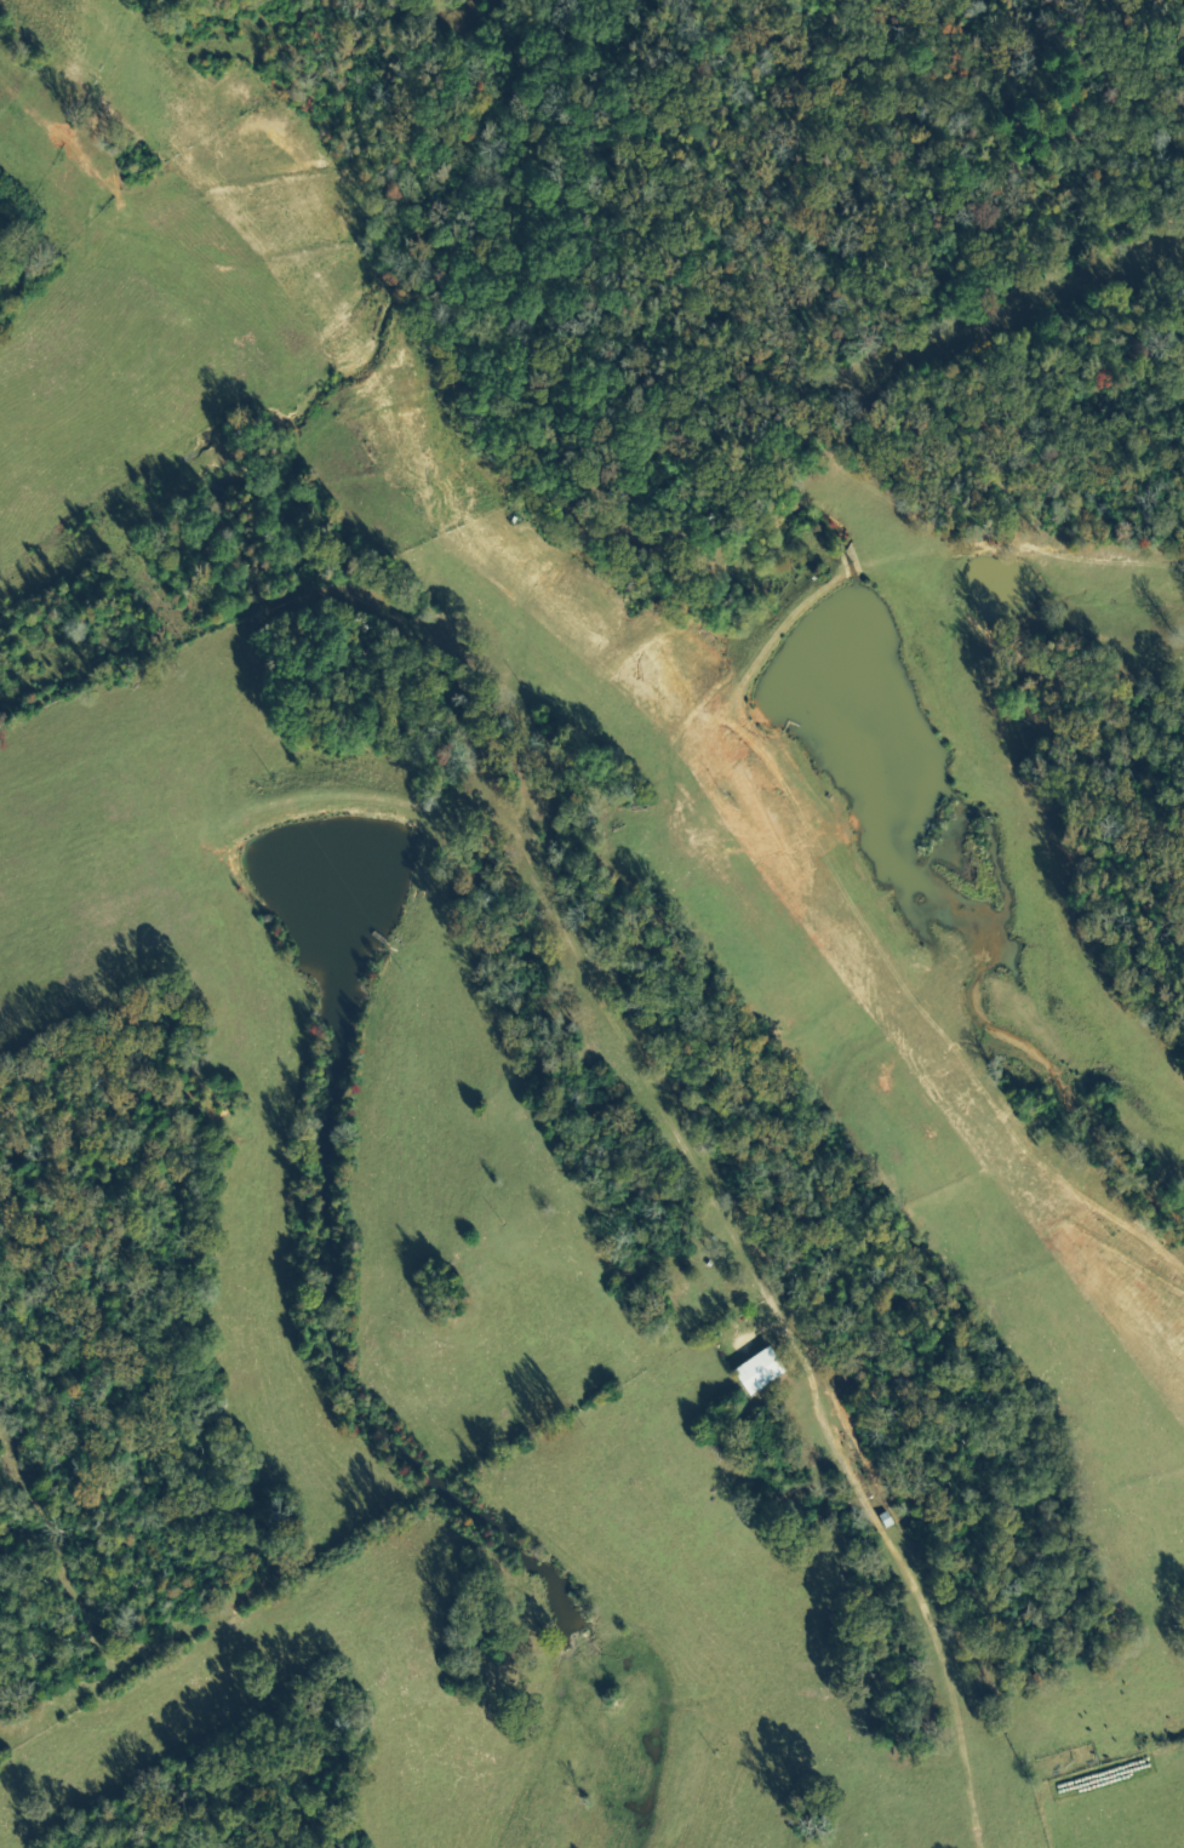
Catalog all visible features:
building: (751, 1372)

